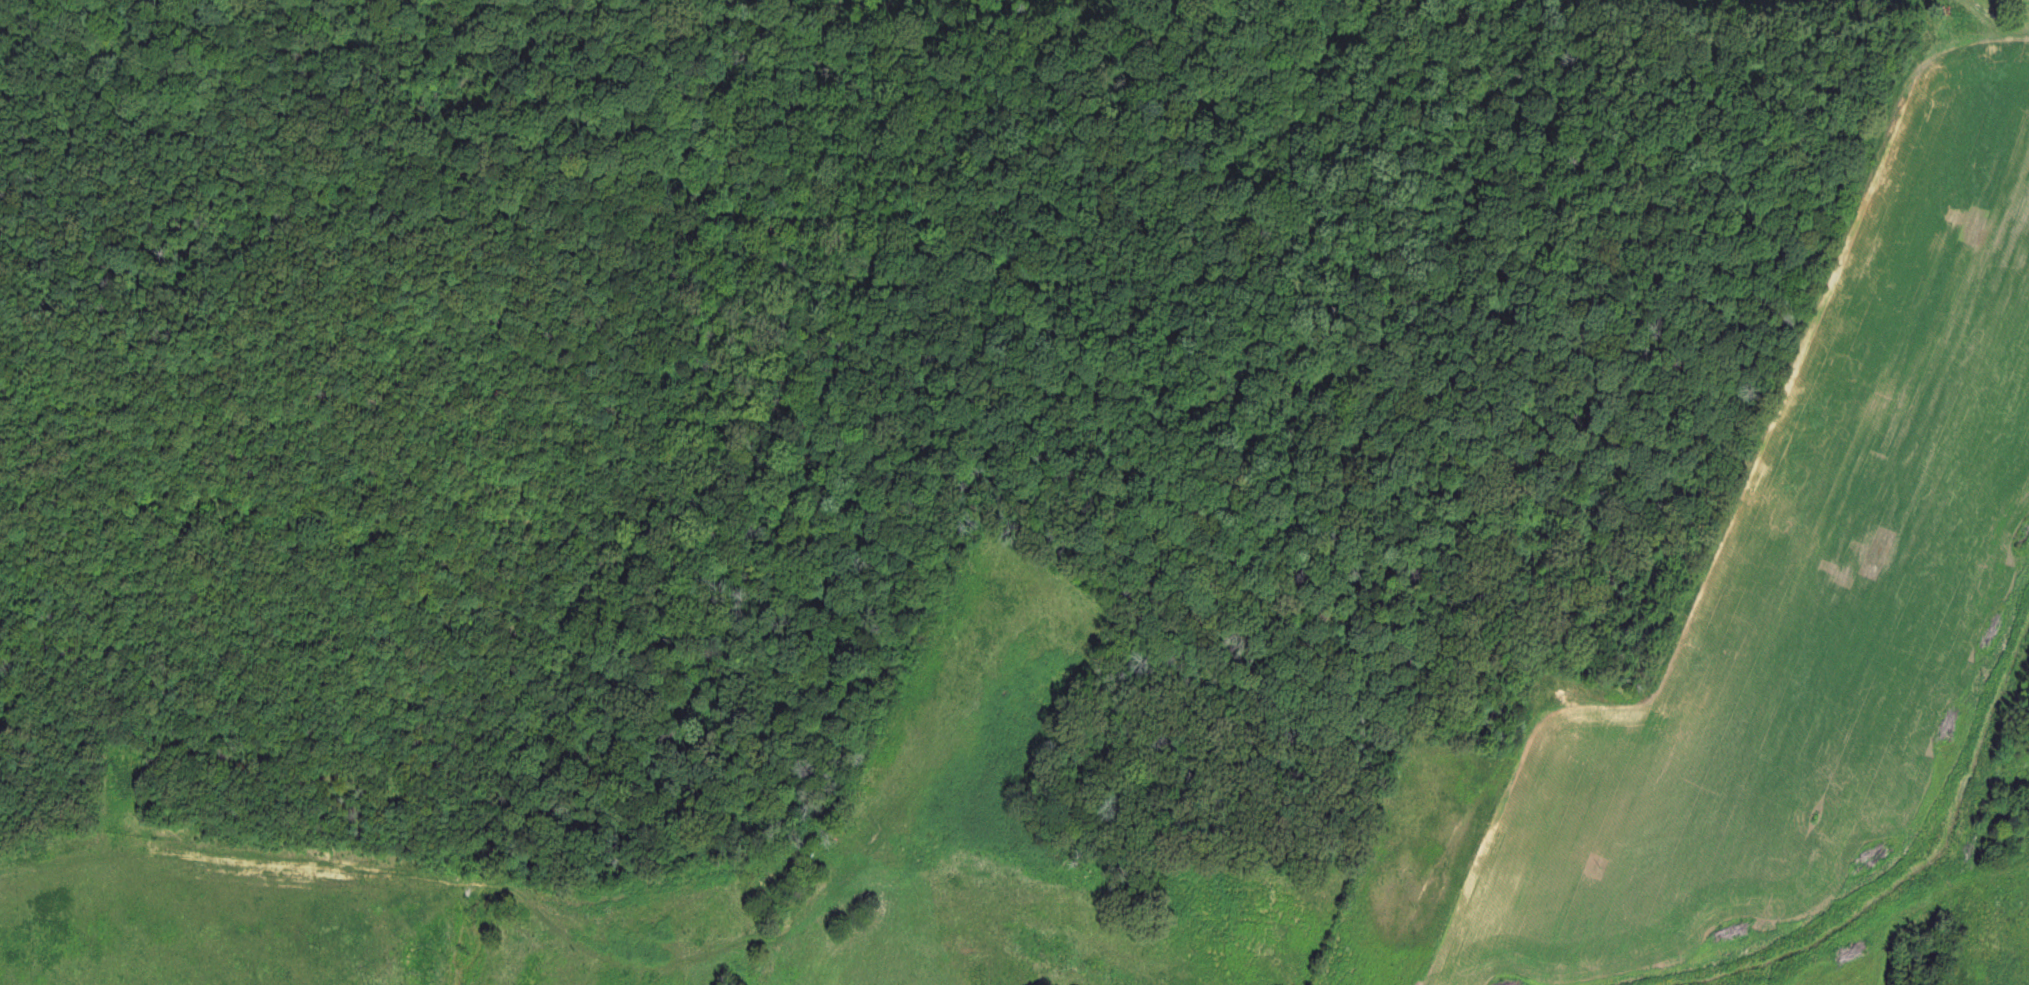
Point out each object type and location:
road: (535, 875)

